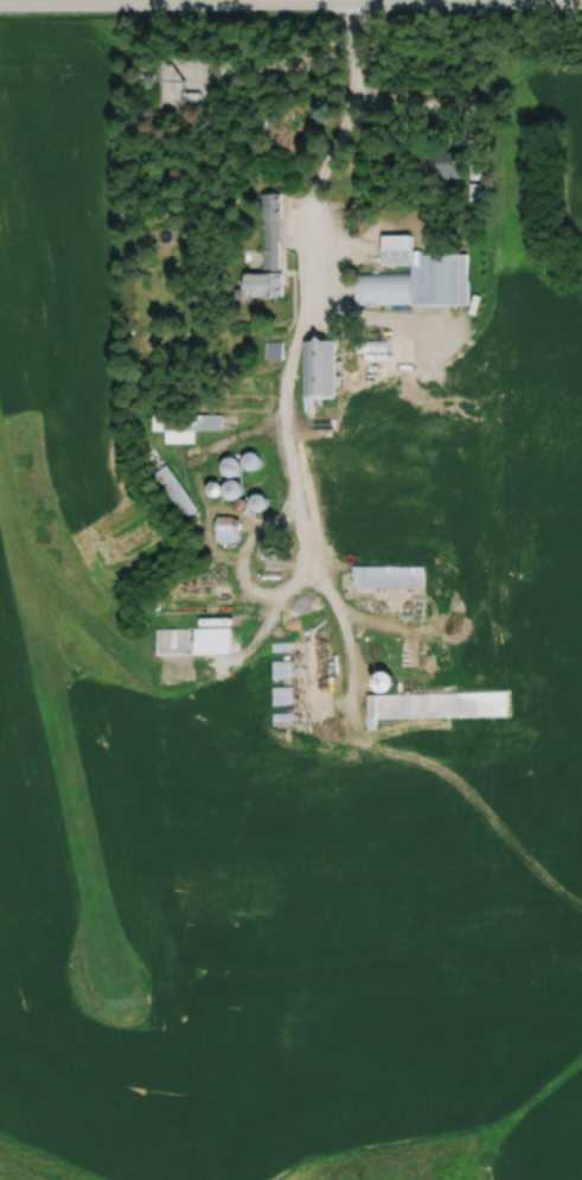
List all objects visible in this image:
road: (358, 1)
road: (290, 2)
building: (192, 97)
building: (443, 162)
building: (269, 231)
building: (416, 278)
building: (263, 285)
road: (294, 343)
building: (274, 350)
building: (320, 385)
building: (185, 426)
building: (242, 465)
building: (235, 490)
building: (174, 491)
building: (261, 503)
building: (226, 525)
building: (388, 576)
airport hangar: (191, 640)
building: (191, 640)
building: (280, 645)
building: (281, 669)
building: (282, 694)
building: (430, 700)
airport runway: (53, 722)
park: (403, 1162)
park: (28, 1167)

